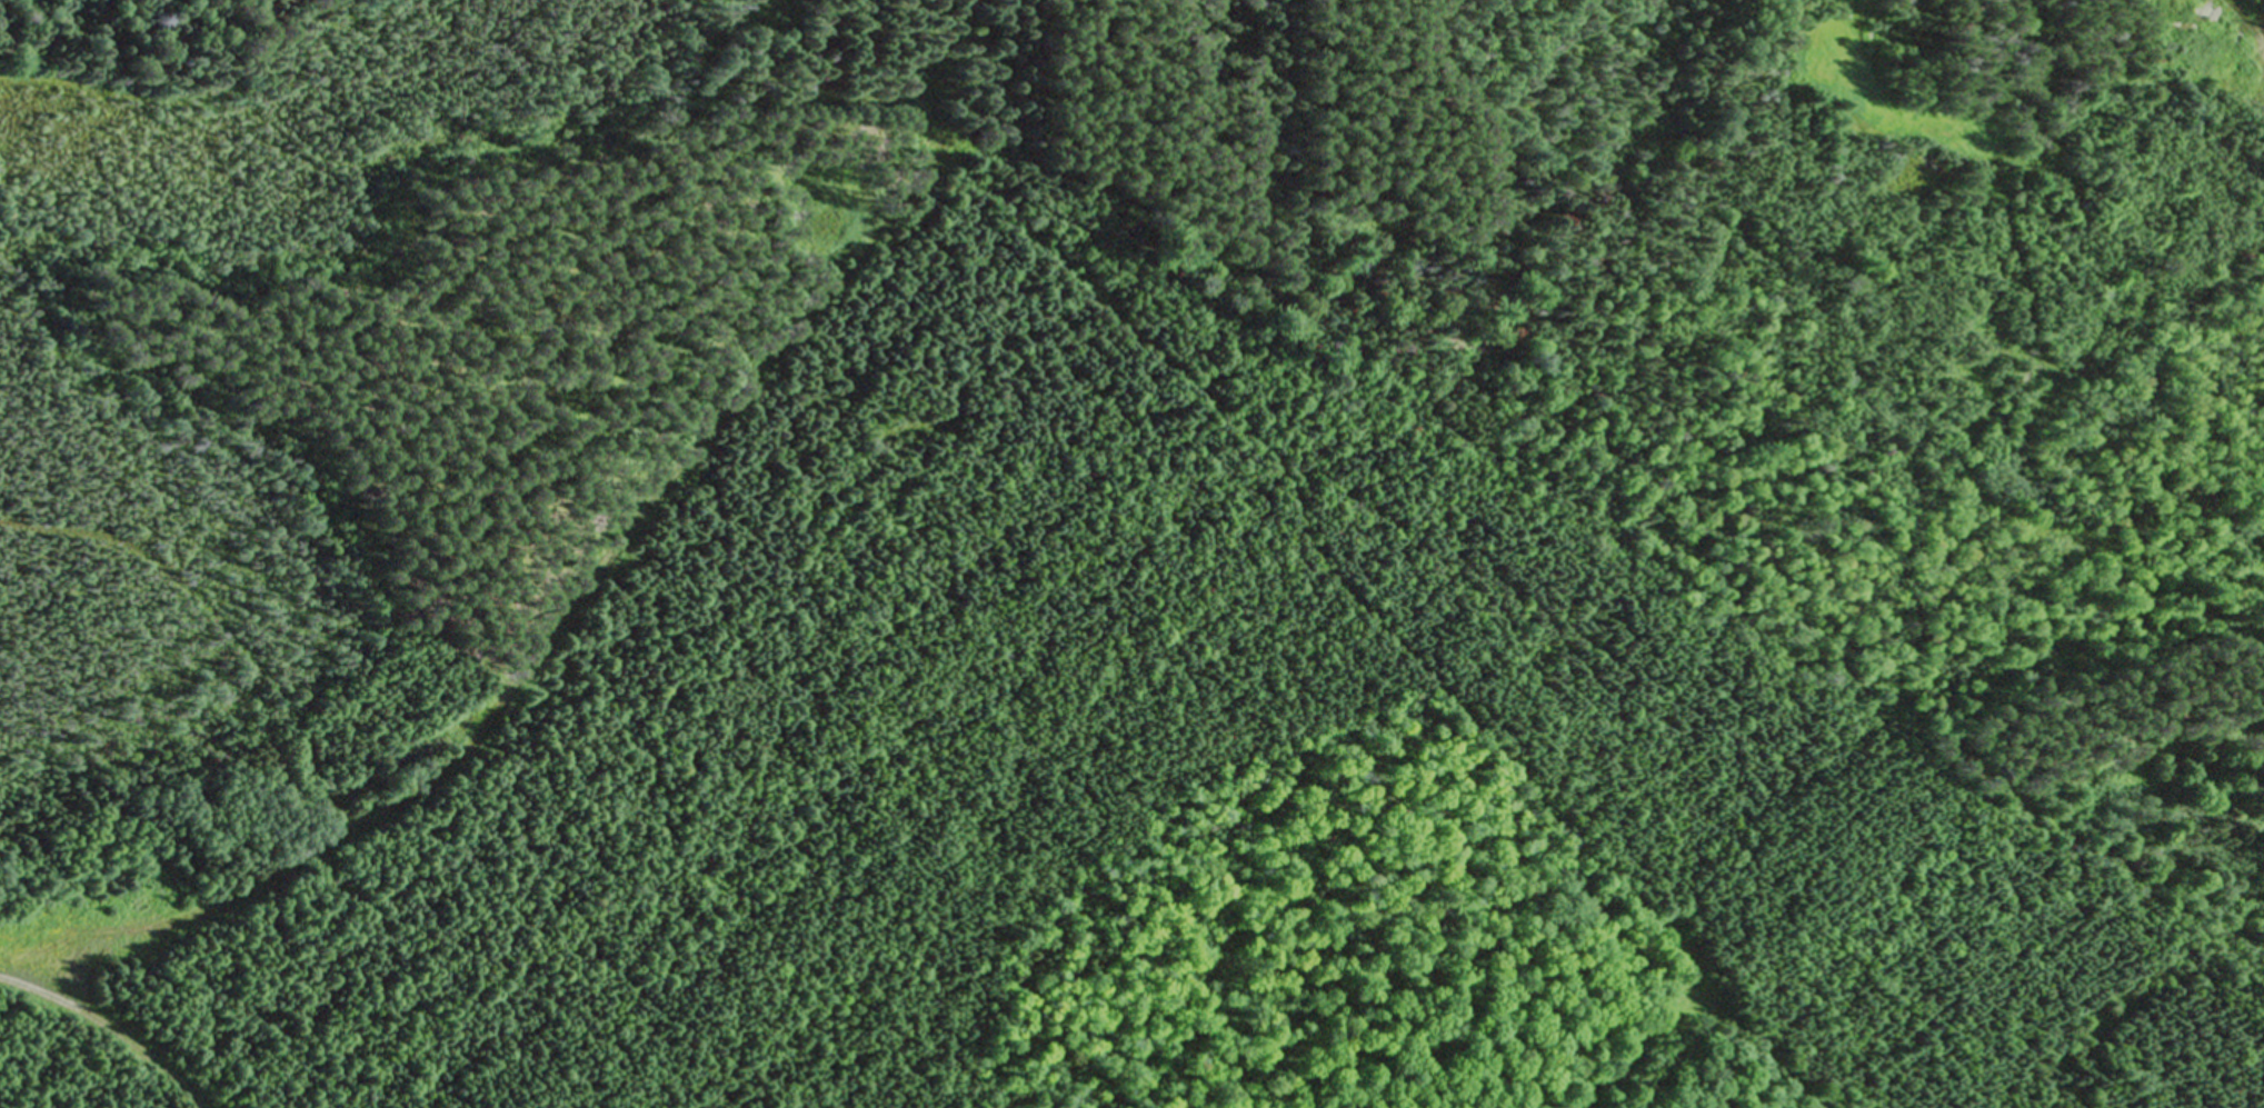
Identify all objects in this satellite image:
road: (142, 715)

